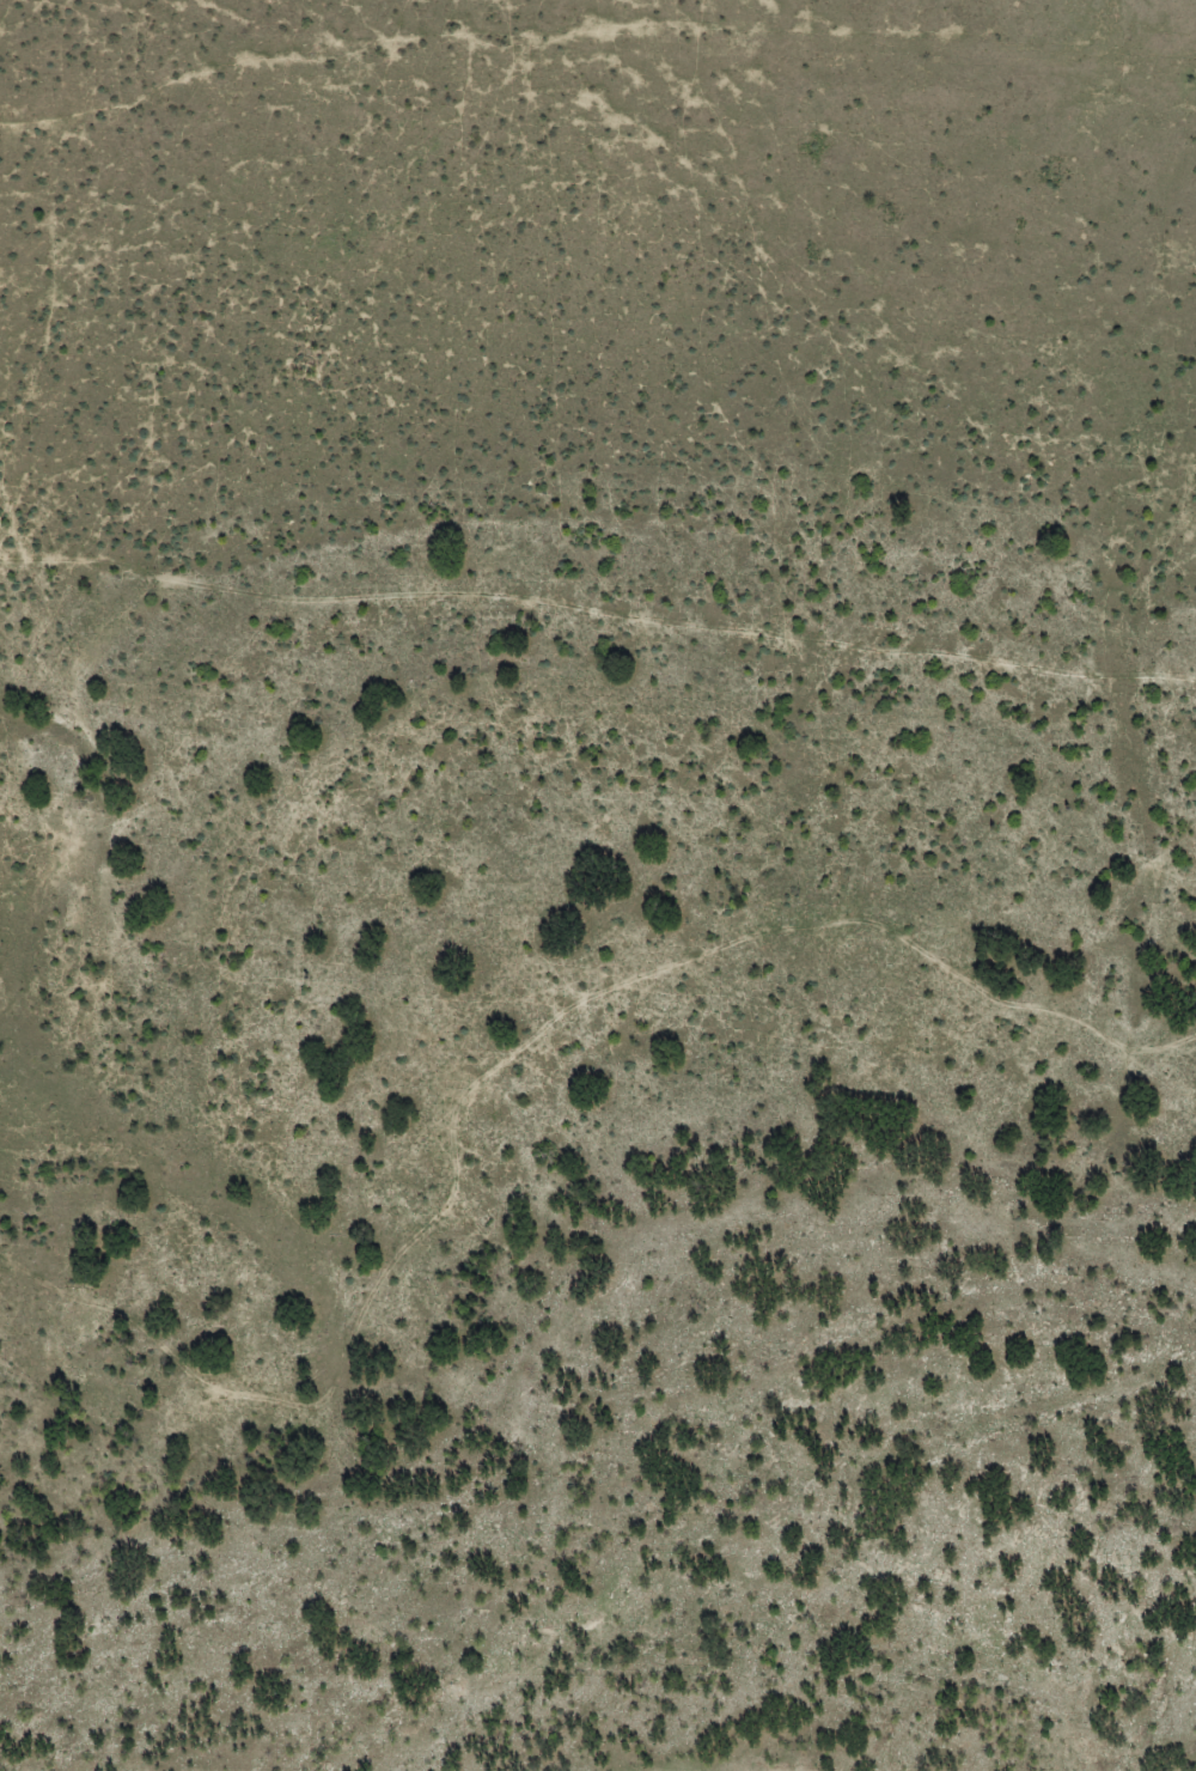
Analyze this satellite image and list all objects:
road: (598, 616)

